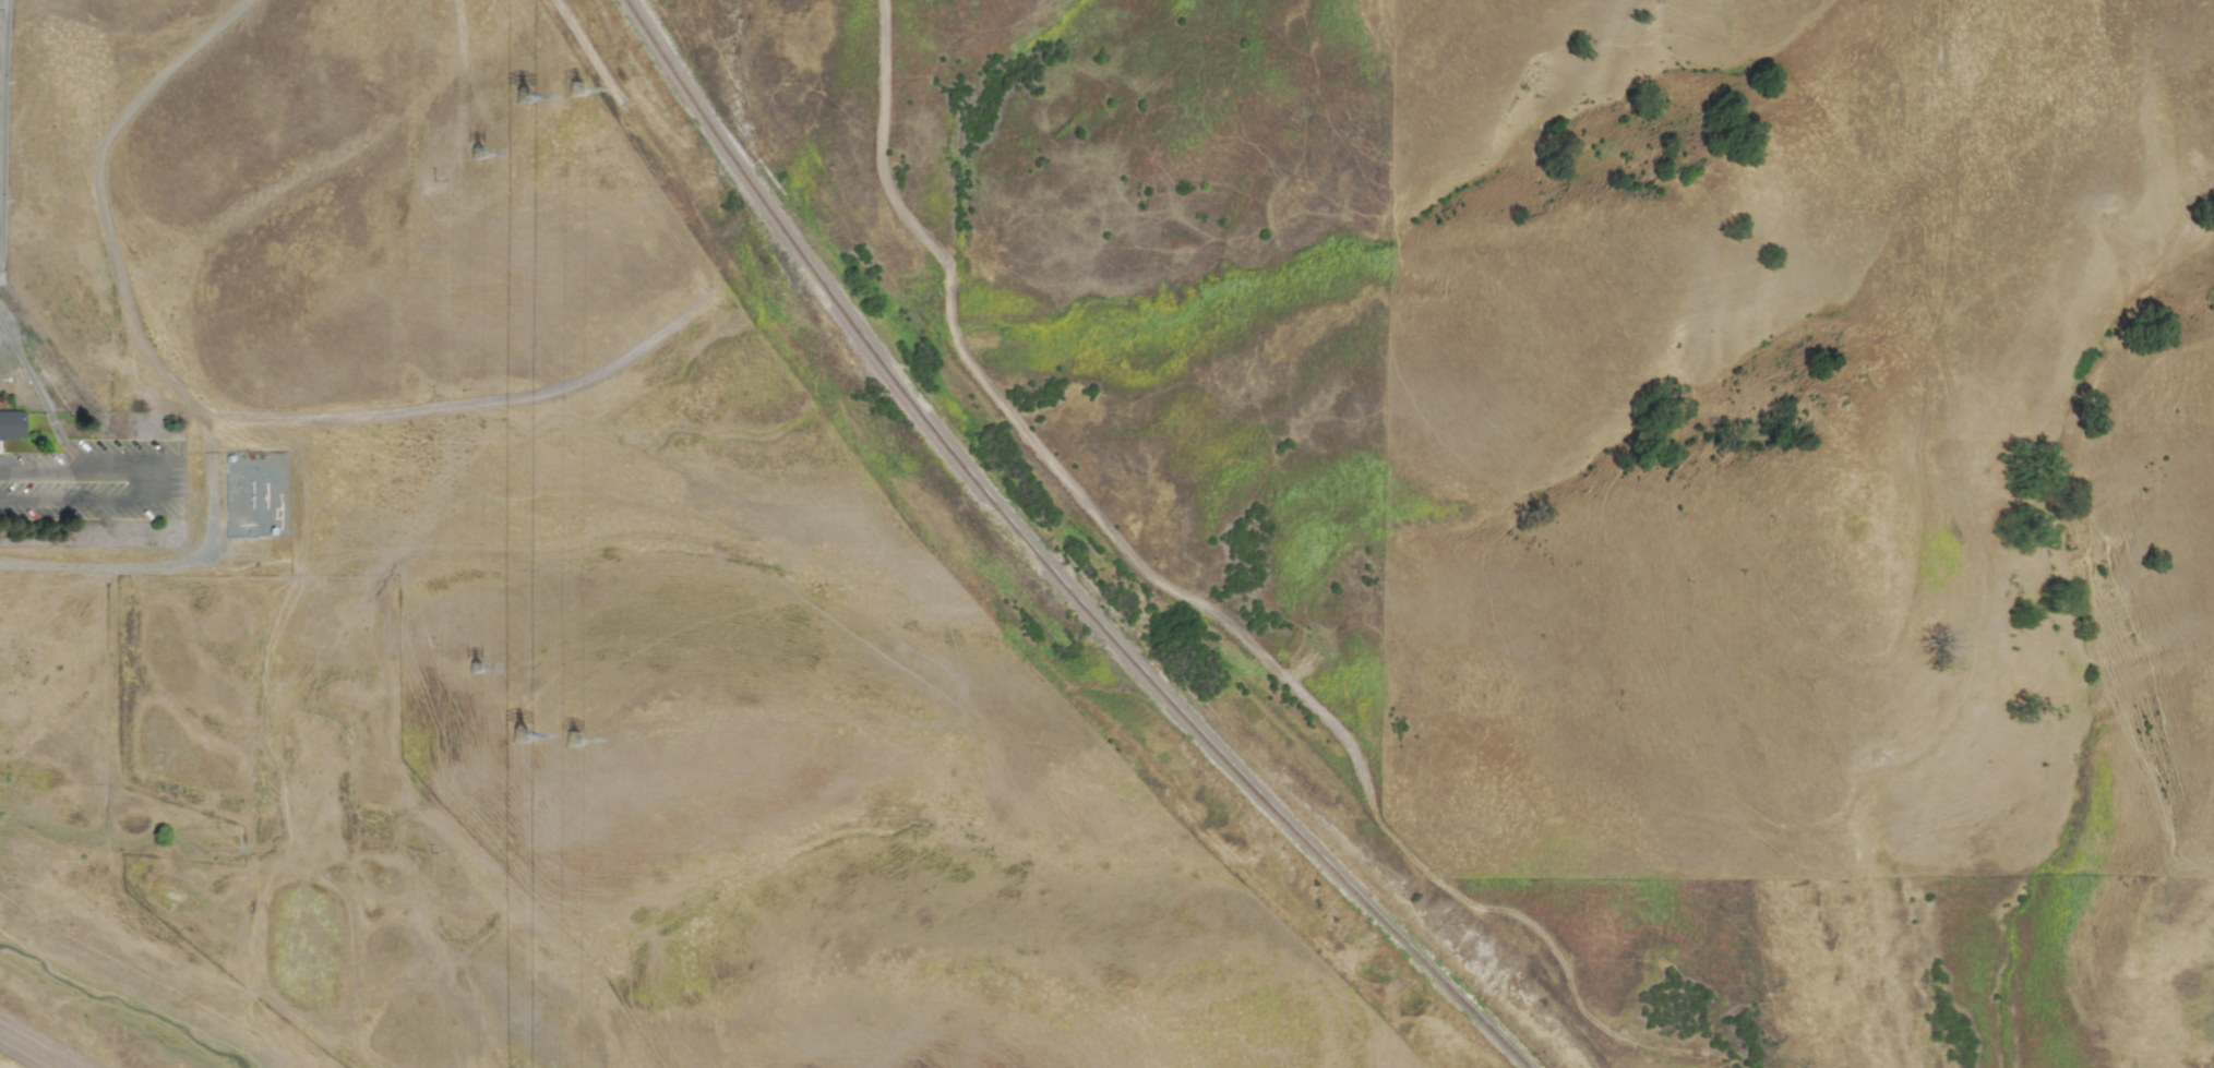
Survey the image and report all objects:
power tower: (584, 92)
power tower: (526, 95)
power tower: (483, 153)
building: (11, 425)
road: (156, 481)
railway: (1048, 564)
power tower: (474, 668)
power tower: (518, 735)
power tower: (572, 740)

